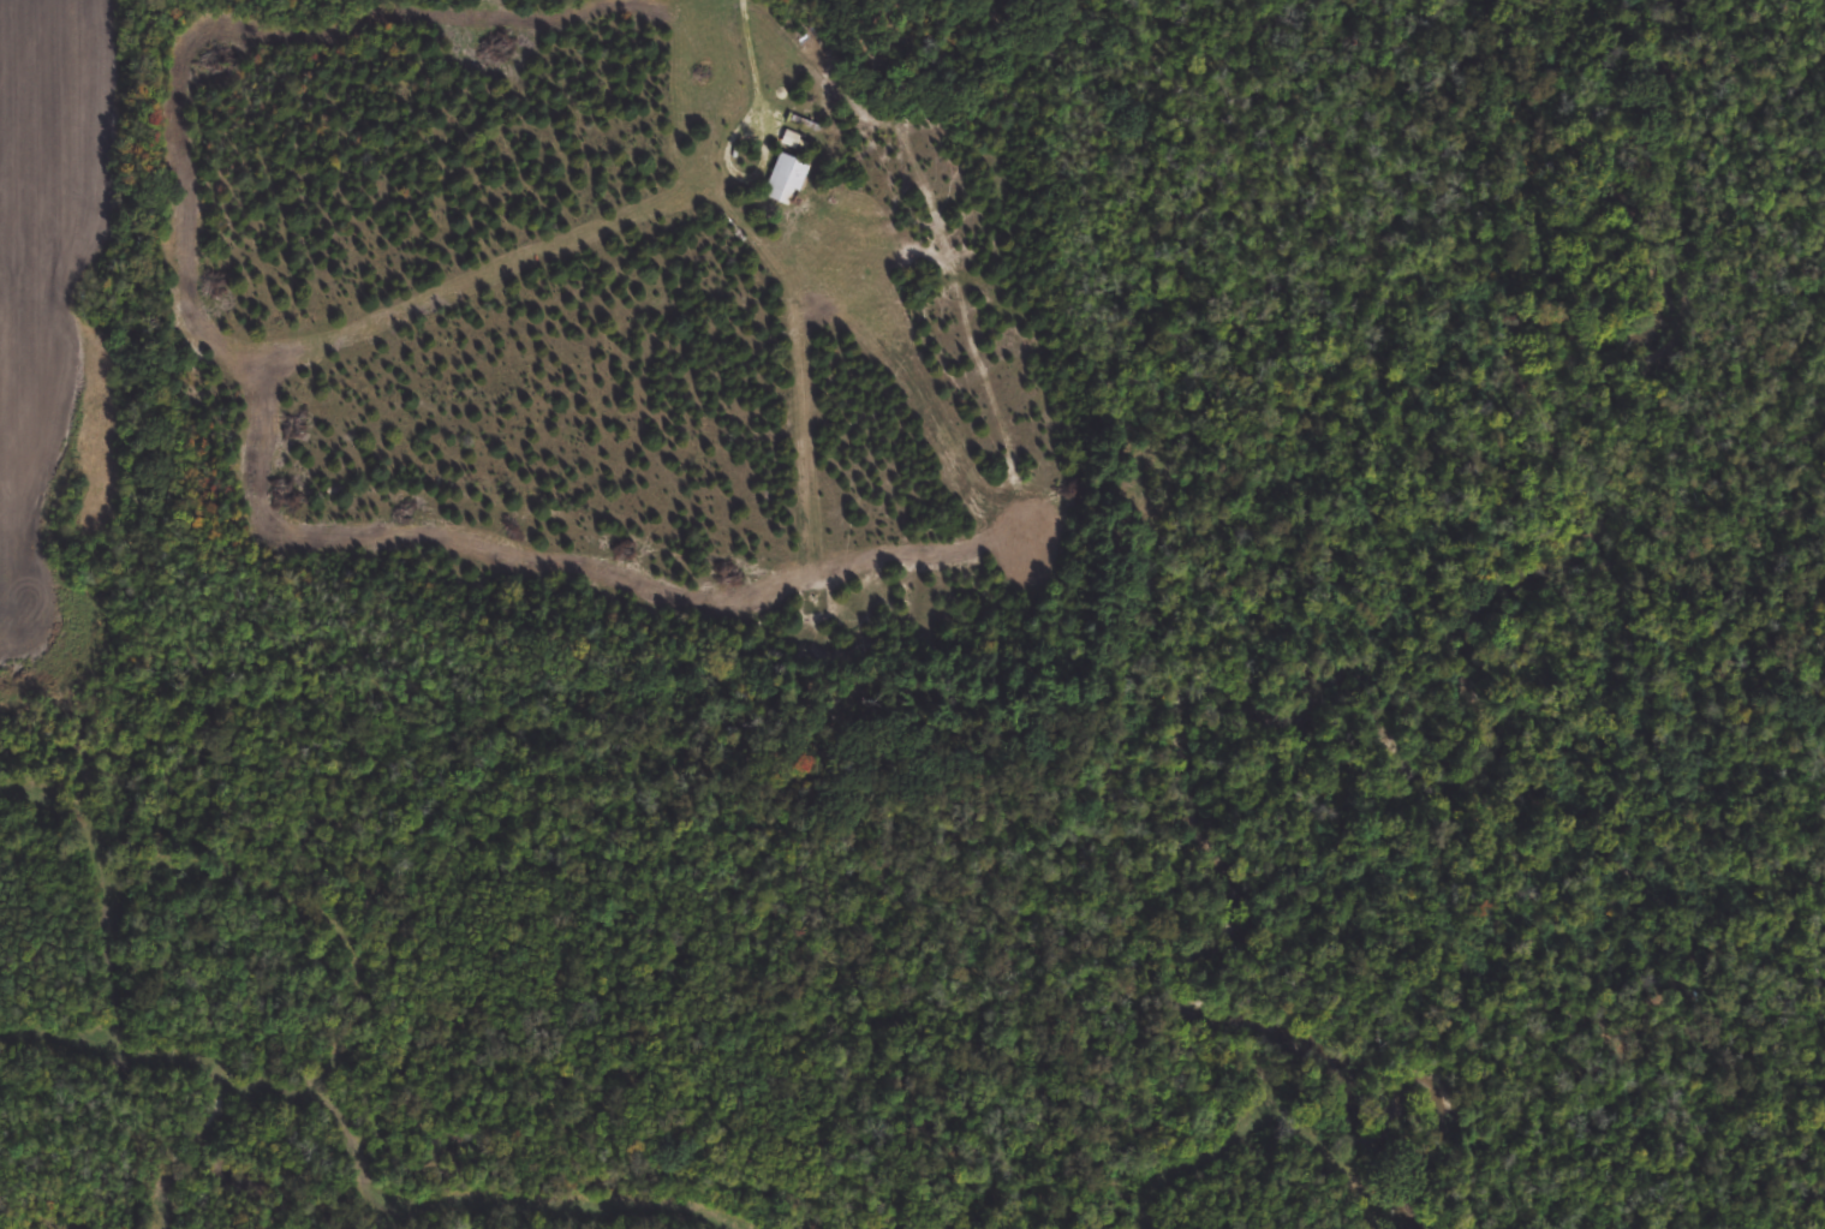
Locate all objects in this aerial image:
building: (787, 183)

